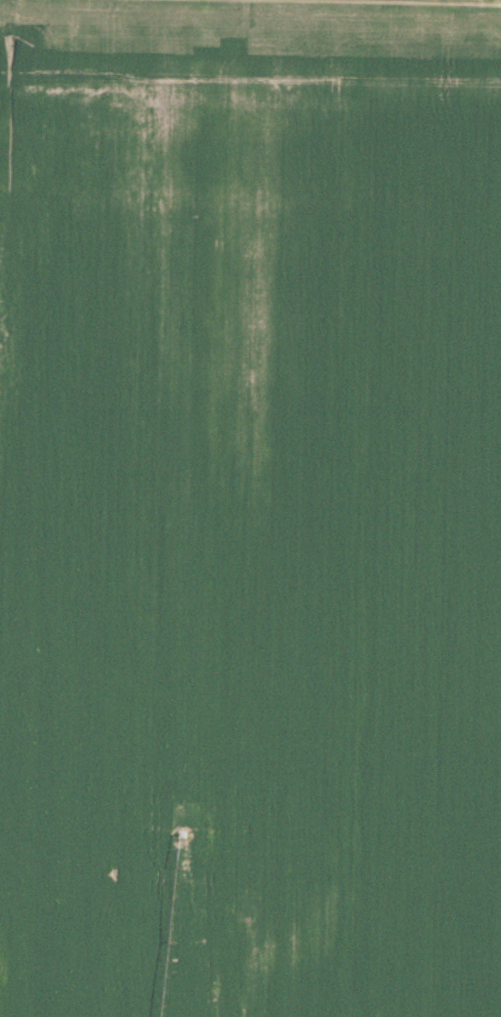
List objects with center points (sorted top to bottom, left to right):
crop: (250, 508)

